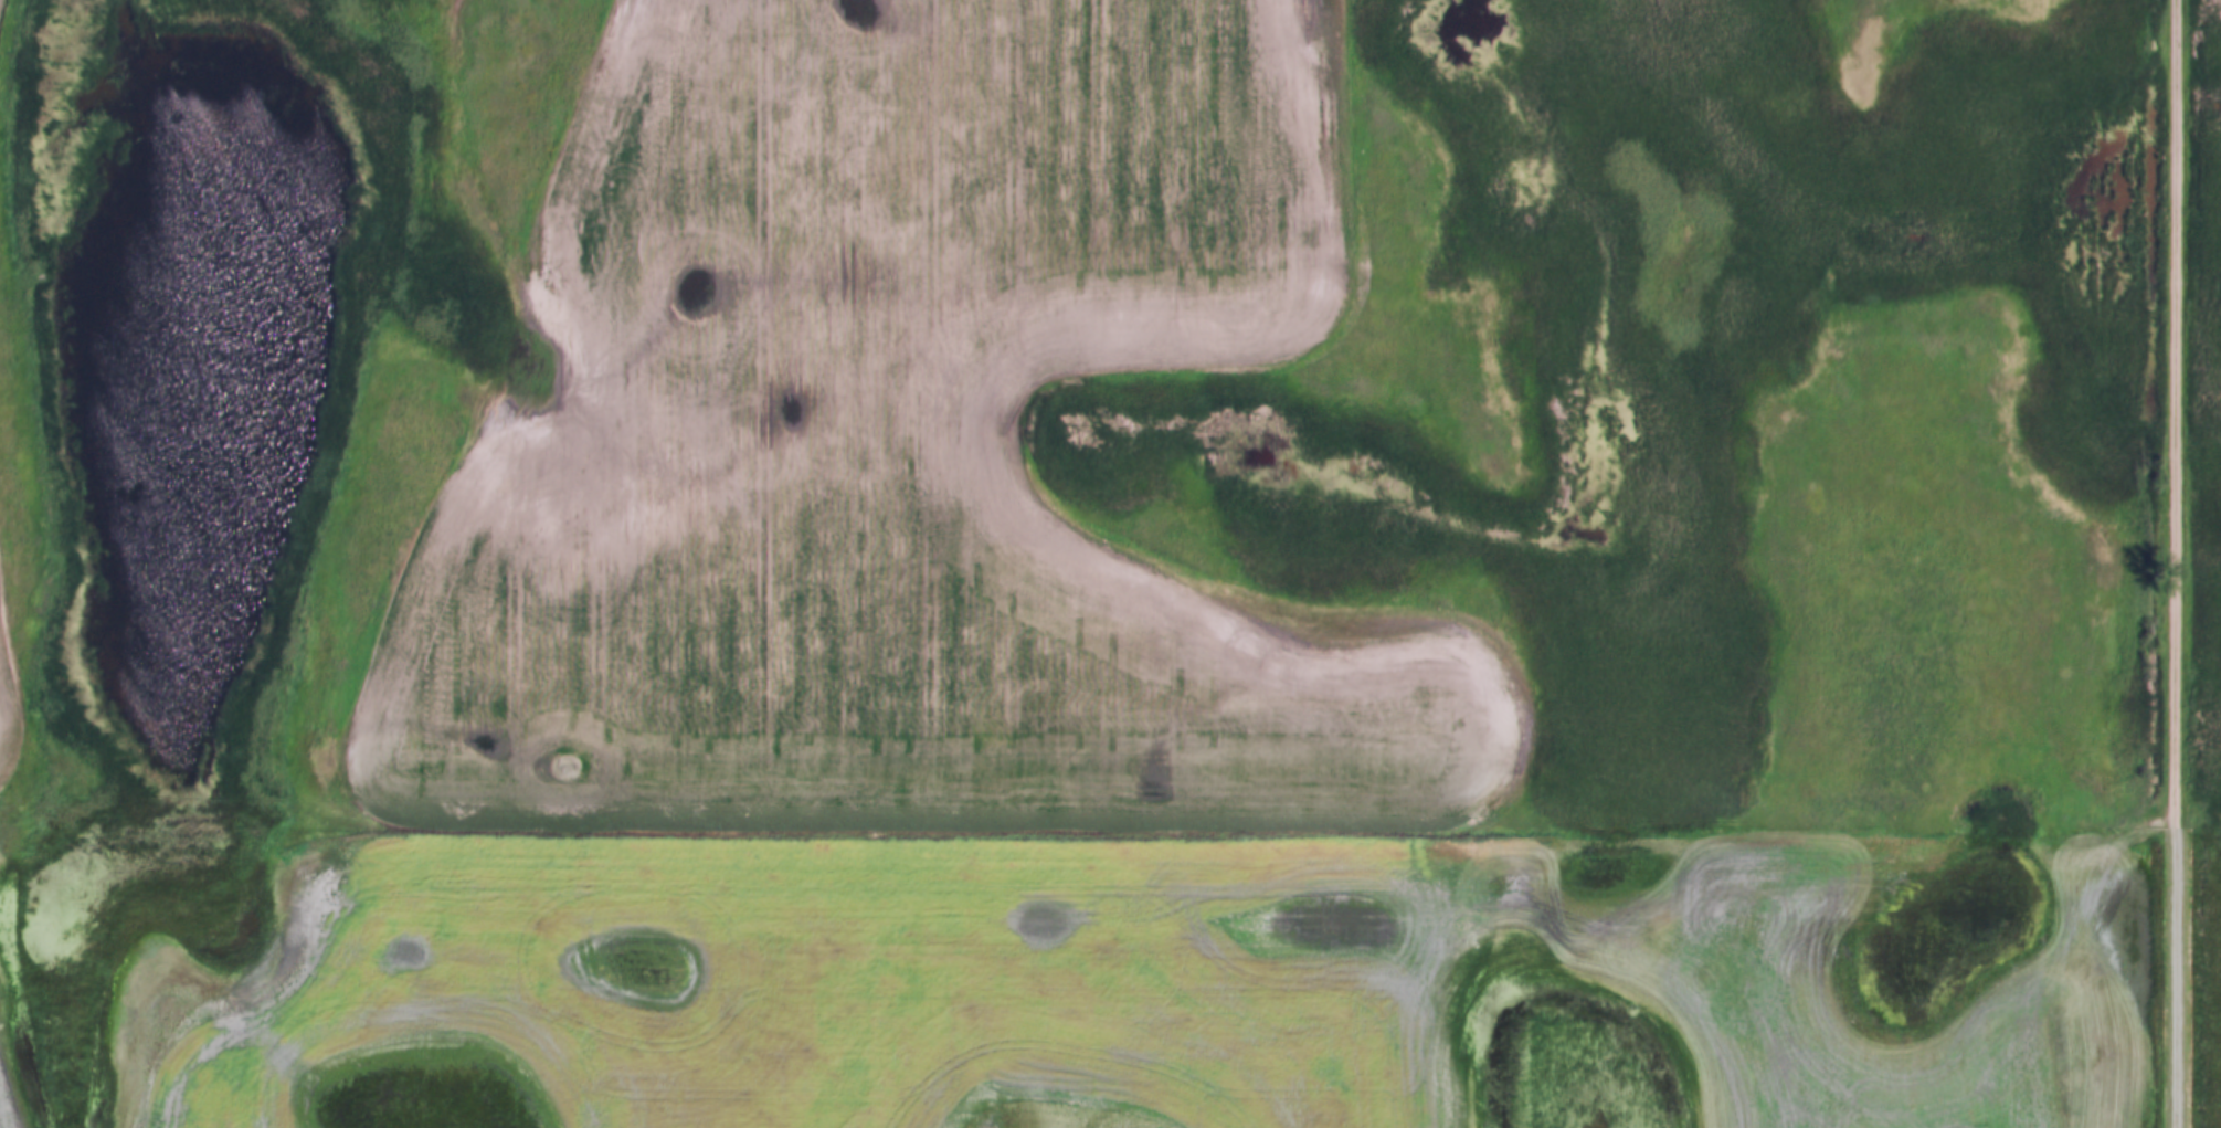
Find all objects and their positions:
road: (2178, 563)

